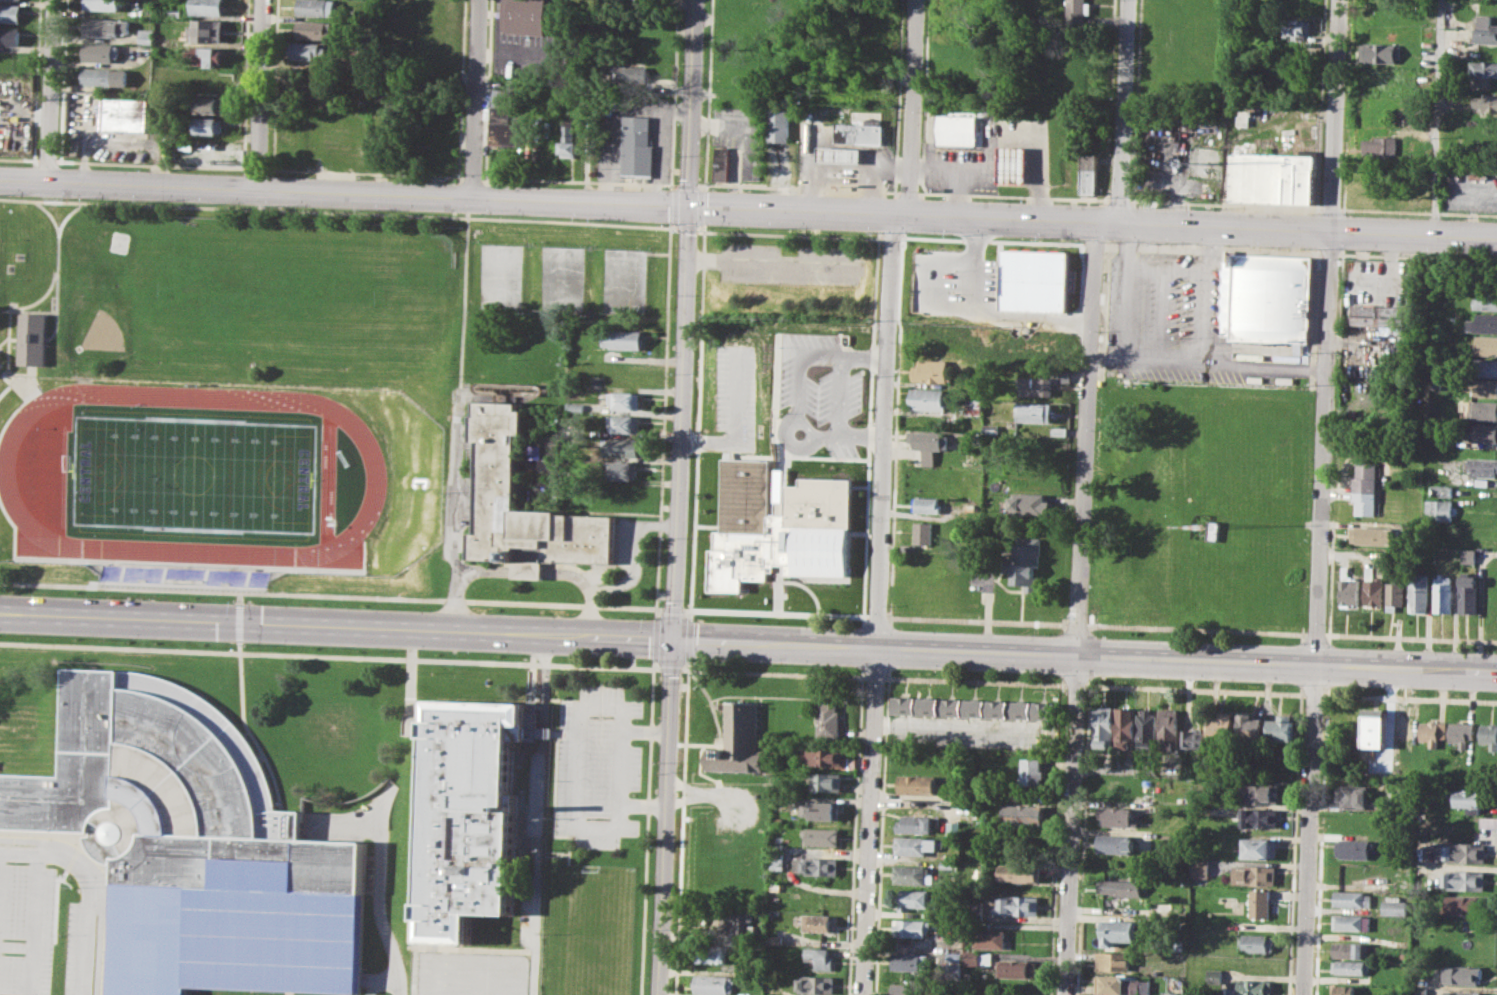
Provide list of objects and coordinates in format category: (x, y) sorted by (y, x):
building: (105, 4)
building: (211, 7)
building: (319, 7)
building: (1077, 10)
building: (10, 13)
building: (524, 16)
building: (108, 26)
building: (317, 28)
building: (1295, 28)
building: (1487, 28)
building: (207, 30)
building: (10, 35)
building: (148, 36)
building: (310, 50)
building: (101, 51)
building: (1382, 52)
building: (207, 55)
building: (875, 65)
building: (1485, 70)
building: (630, 74)
building: (106, 76)
road: (53, 92)
road: (262, 96)
road: (477, 101)
building: (1491, 102)
building: (209, 103)
road: (910, 109)
building: (124, 113)
road: (1121, 113)
road: (1437, 119)
building: (504, 120)
building: (209, 125)
building: (780, 125)
building: (957, 129)
building: (860, 131)
road: (1023, 133)
building: (570, 139)
building: (637, 146)
building: (1384, 147)
building: (840, 155)
gas station: (840, 155)
building: (722, 164)
building: (1012, 164)
gas station: (1012, 164)
road: (888, 168)
building: (1089, 172)
road: (951, 173)
building: (1480, 174)
building: (1272, 177)
road: (842, 180)
road: (445, 200)
traffic signals: (690, 210)
road: (344, 212)
road: (1193, 229)
road: (771, 262)
parking lot: (791, 264)
road: (59, 268)
road: (1164, 270)
park: (499, 275)
park: (561, 278)
building: (997, 279)
park: (622, 280)
building: (1031, 280)
road: (462, 294)
road: (1124, 294)
building: (1270, 297)
building: (1486, 300)
road: (5, 309)
road: (33, 311)
building: (1378, 315)
road: (988, 316)
road: (1161, 316)
road: (1203, 319)
road: (9, 322)
parking lot: (1175, 322)
building: (1483, 323)
building: (32, 338)
building: (622, 338)
road: (8, 339)
building: (1037, 345)
building: (1484, 345)
road: (1212, 365)
building: (1485, 367)
building: (934, 371)
road: (16, 380)
park: (264, 386)
building: (1036, 386)
building: (1485, 388)
building: (1436, 390)
road: (839, 395)
building: (928, 399)
building: (624, 400)
parking lot: (737, 400)
road: (798, 406)
building: (976, 407)
building: (1483, 410)
building: (1034, 412)
road: (662, 413)
building: (624, 422)
road: (738, 422)
road: (805, 425)
building: (1057, 431)
building: (1479, 431)
road: (883, 433)
building: (930, 440)
building: (620, 445)
building: (533, 450)
building: (968, 459)
building: (1481, 466)
building: (839, 469)
building: (620, 470)
park: (184, 472)
building: (497, 474)
track: (373, 477)
park: (328, 478)
road: (456, 484)
building: (1365, 487)
building: (1442, 490)
building: (617, 493)
road: (678, 497)
road: (1321, 497)
building: (930, 504)
building: (1031, 504)
building: (1441, 509)
building: (750, 519)
building: (1213, 530)
building: (924, 533)
building: (1368, 535)
parking lot: (629, 544)
road: (634, 552)
building: (1469, 556)
building: (1025, 563)
building: (1379, 565)
road: (525, 570)
building: (182, 574)
building: (1347, 588)
building: (1372, 589)
building: (1395, 593)
building: (1418, 593)
building: (1470, 593)
road: (331, 594)
street lamp: (107, 595)
building: (1444, 595)
road: (240, 597)
street lamp: (253, 601)
street lamp: (886, 605)
street lamp: (387, 607)
road: (672, 608)
road: (1079, 610)
street lamp: (520, 612)
road: (775, 612)
road: (876, 616)
street lamp: (644, 617)
road: (976, 620)
road: (240, 621)
street lamp: (772, 621)
street lamp: (1325, 623)
road: (1076, 624)
street lamp: (900, 627)
road: (437, 629)
road: (1196, 629)
street lamp: (1036, 631)
road: (1315, 634)
road: (654, 637)
traffic signals: (673, 637)
street lamp: (1165, 637)
road: (1411, 637)
street lamp: (102, 638)
street lamp: (1291, 642)
street lamp: (250, 644)
street lamp: (1419, 647)
street lamp: (388, 650)
street lamp: (517, 654)
road: (335, 655)
street lamp: (643, 659)
road: (1186, 660)
street lamp: (770, 664)
street lamp: (899, 670)
street lamp: (1036, 676)
street lamp: (1164, 679)
street lamp: (884, 684)
street lamp: (1290, 684)
road: (409, 687)
street lamp: (1419, 689)
road: (602, 703)
building: (974, 708)
street lamp: (1322, 715)
building: (828, 720)
building: (1124, 726)
building: (1146, 726)
building: (1222, 726)
building: (1249, 726)
building: (1102, 727)
building: (1168, 727)
building: (1281, 727)
road: (247, 728)
building: (1372, 728)
road: (646, 730)
building: (1431, 732)
building: (1461, 733)
building: (1489, 735)
building: (738, 741)
building: (1193, 742)
building: (822, 756)
road: (579, 766)
parking lot: (600, 766)
road: (622, 767)
building: (1031, 770)
building: (827, 782)
building: (917, 784)
building: (1260, 791)
building: (1350, 798)
building: (1472, 799)
road: (643, 805)
building: (823, 809)
road: (539, 813)
building: (469, 815)
building: (1022, 815)
building: (1119, 817)
building: (1259, 818)
road: (869, 822)
building: (916, 824)
road: (648, 826)
building: (954, 828)
road: (599, 829)
road: (42, 834)
building: (823, 836)
road: (416, 839)
building: (1115, 843)
building: (193, 845)
building: (915, 845)
building: (1260, 848)
building: (1353, 849)
building: (1460, 852)
road: (50, 854)
building: (949, 864)
building: (819, 866)
building: (1200, 867)
building: (1020, 873)
building: (914, 874)
building: (1255, 875)
building: (1465, 879)
building: (1121, 887)
building: (917, 898)
building: (1352, 898)
building: (1260, 903)
road: (377, 904)
building: (1463, 904)
building: (1017, 905)
building: (1394, 906)
building: (977, 908)
building: (1352, 921)
building: (819, 922)
building: (742, 923)
road: (34, 924)
building: (912, 927)
parking lot: (26, 929)
building: (1119, 931)
road: (93, 937)
building: (775, 938)
building: (991, 939)
building: (1257, 942)
parking lot: (80, 948)
road: (453, 949)
building: (1351, 949)
building: (713, 954)
building: (821, 957)
building: (955, 957)
building: (980, 958)
building: (910, 961)
building: (1114, 961)
building: (1350, 967)
building: (1018, 968)
parking lot: (471, 972)
building: (1463, 975)
building: (1215, 976)
building: (716, 983)
building: (818, 984)
building: (1123, 985)
building: (1250, 987)
building: (910, 988)
building: (1345, 990)
building: (1419, 990)
building: (1461, 992)
building: (1171, 993)

